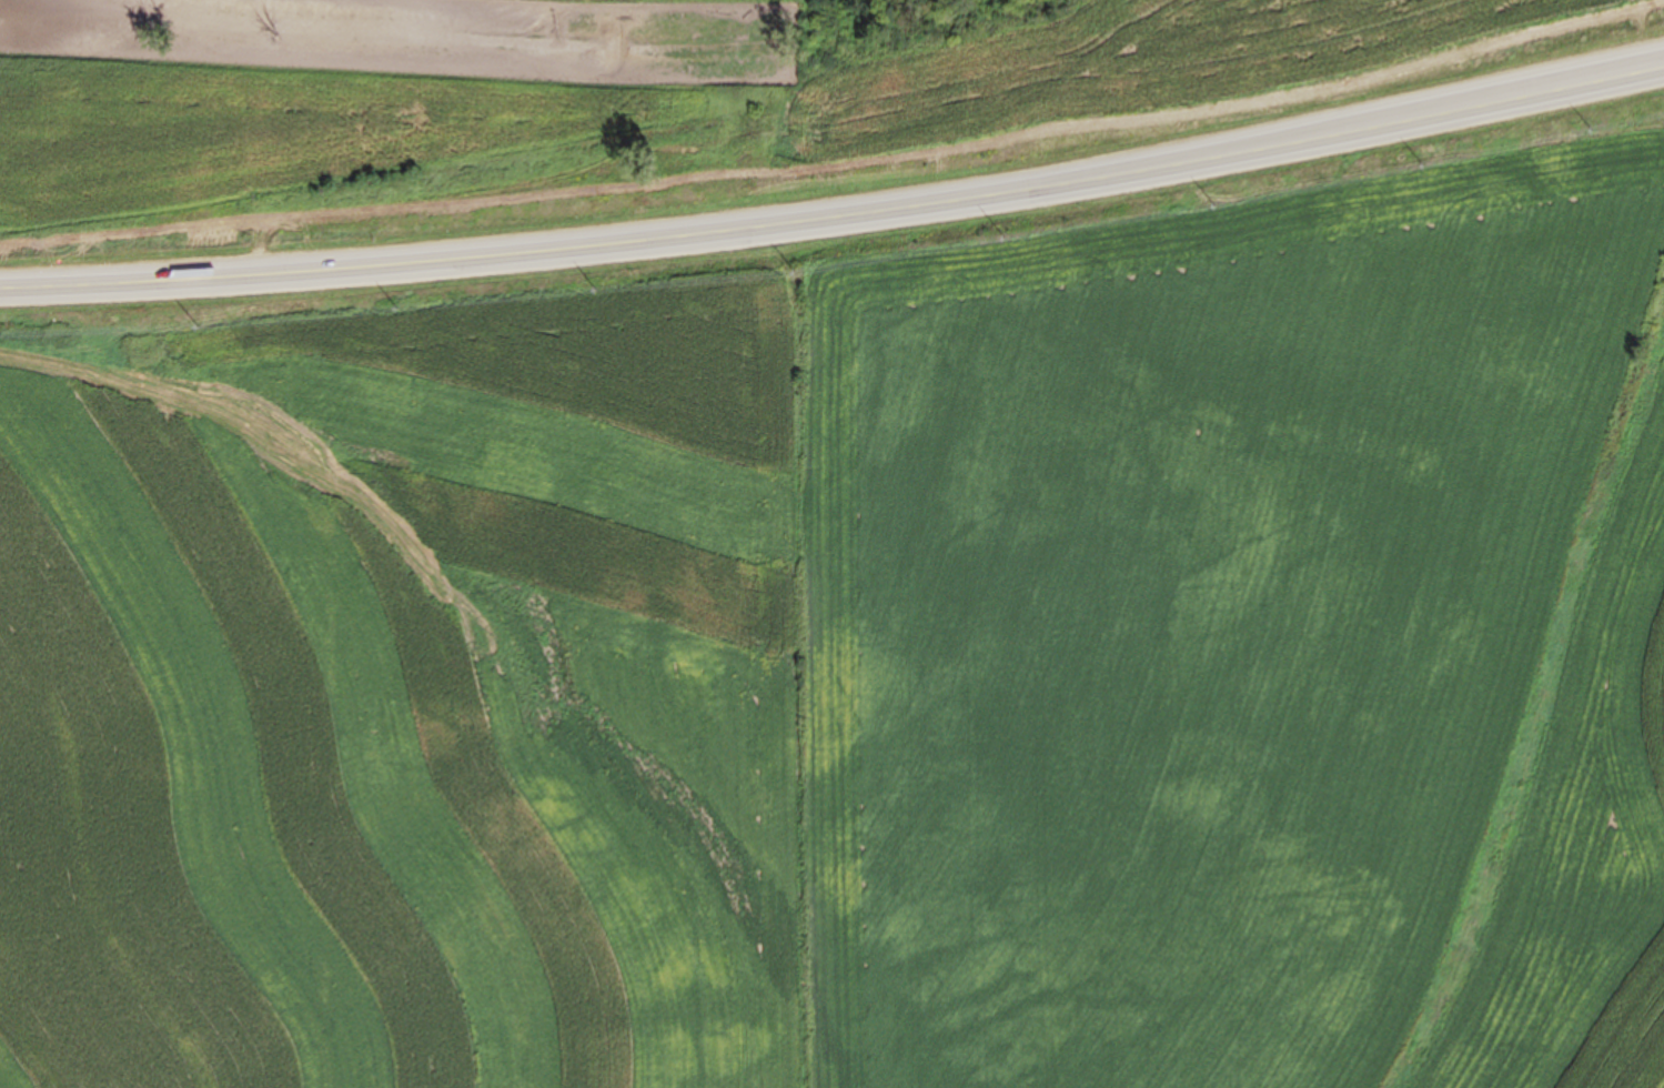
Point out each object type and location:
road: (837, 215)

